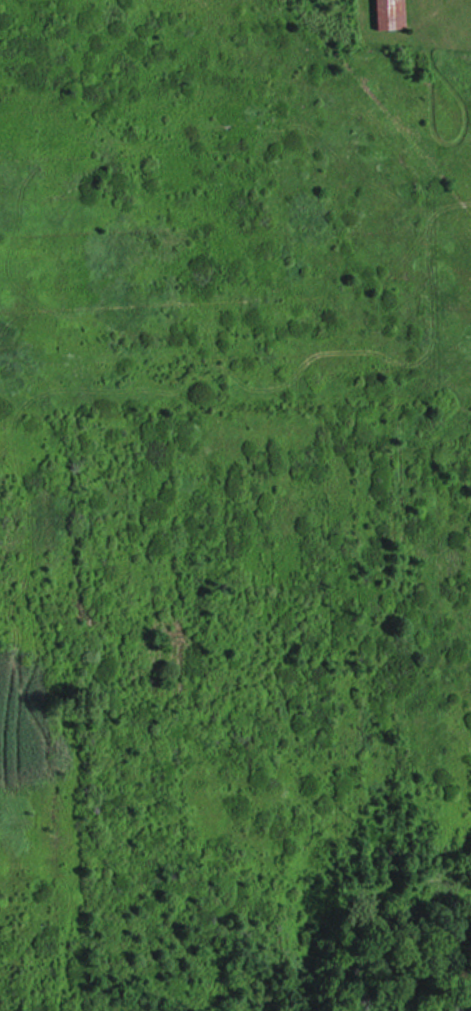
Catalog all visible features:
building: (382, 14)

